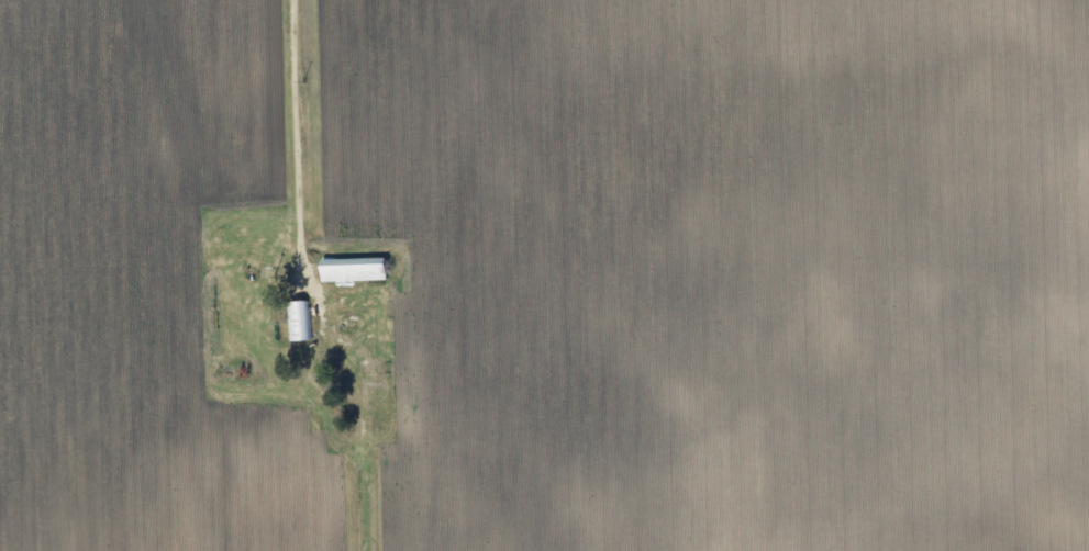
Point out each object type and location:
road: (292, 144)
building: (345, 270)
building: (292, 321)

